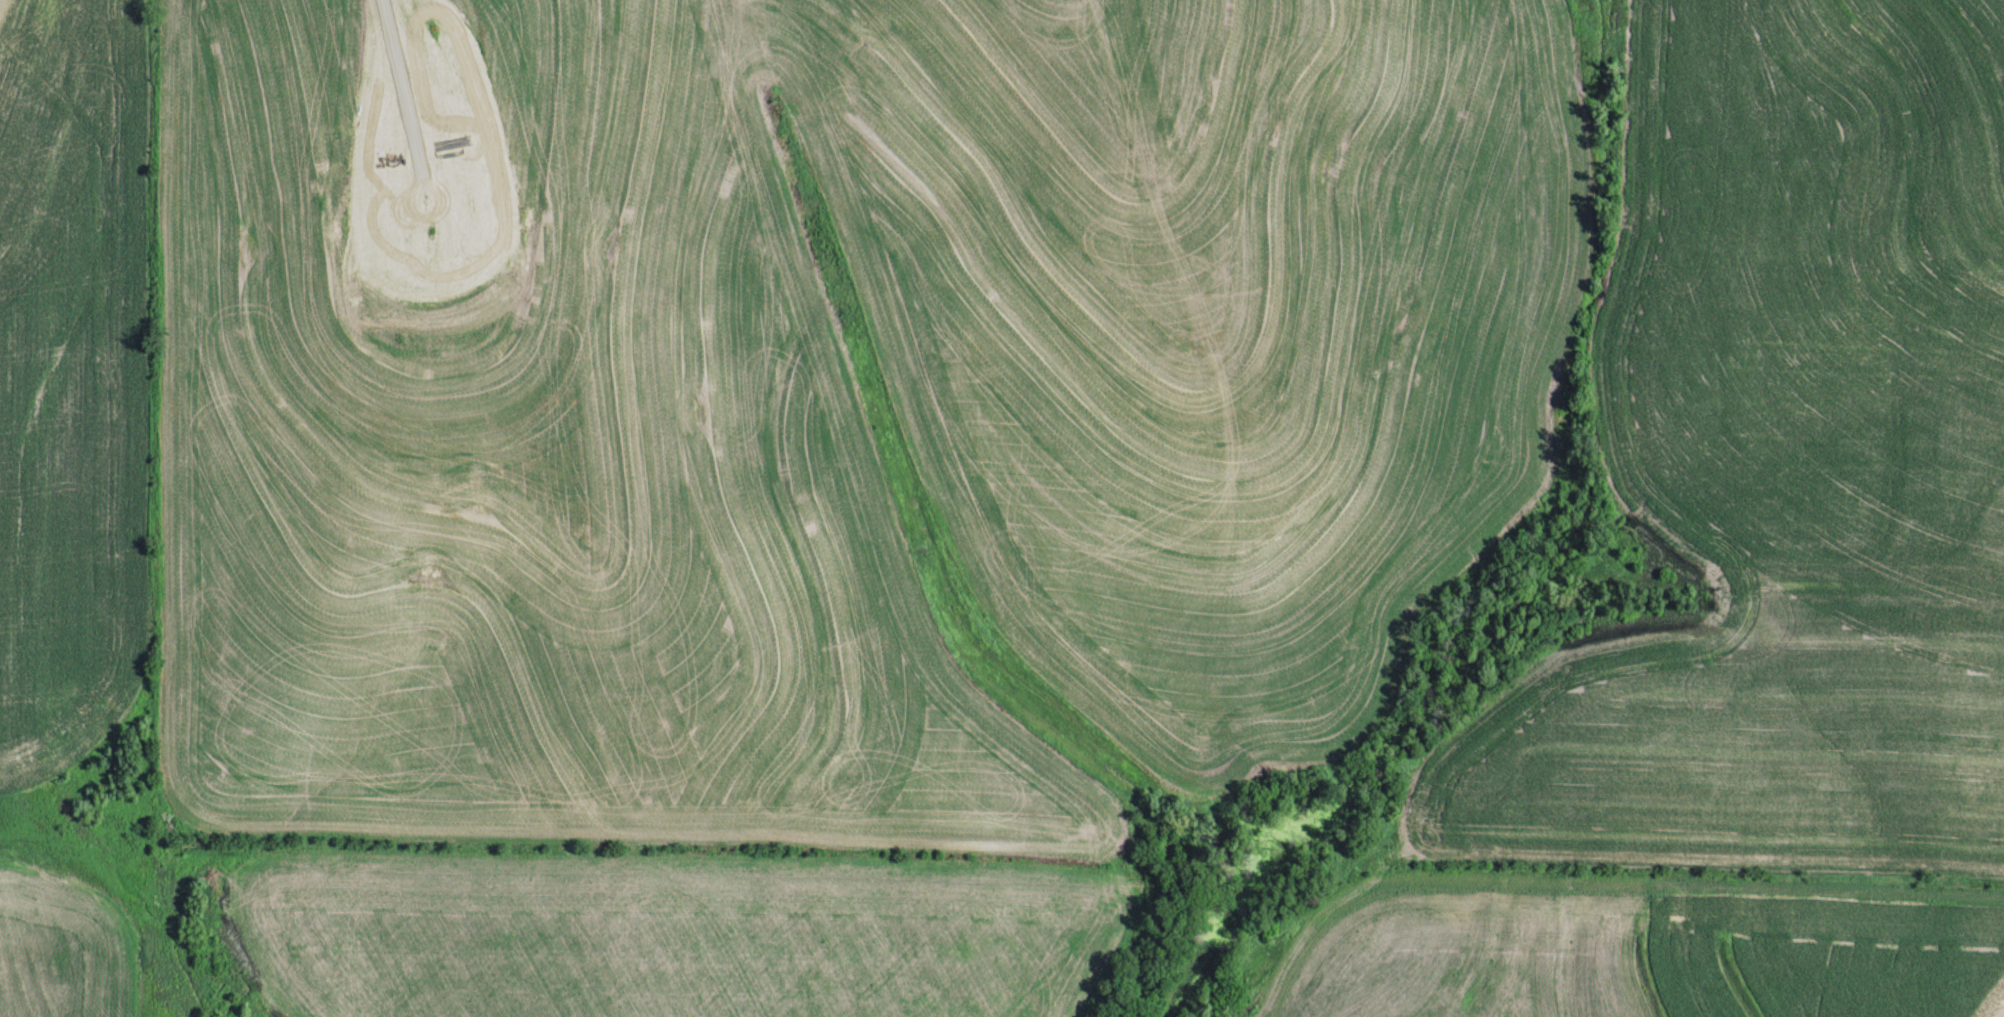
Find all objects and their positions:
wind turbine: (427, 230)

